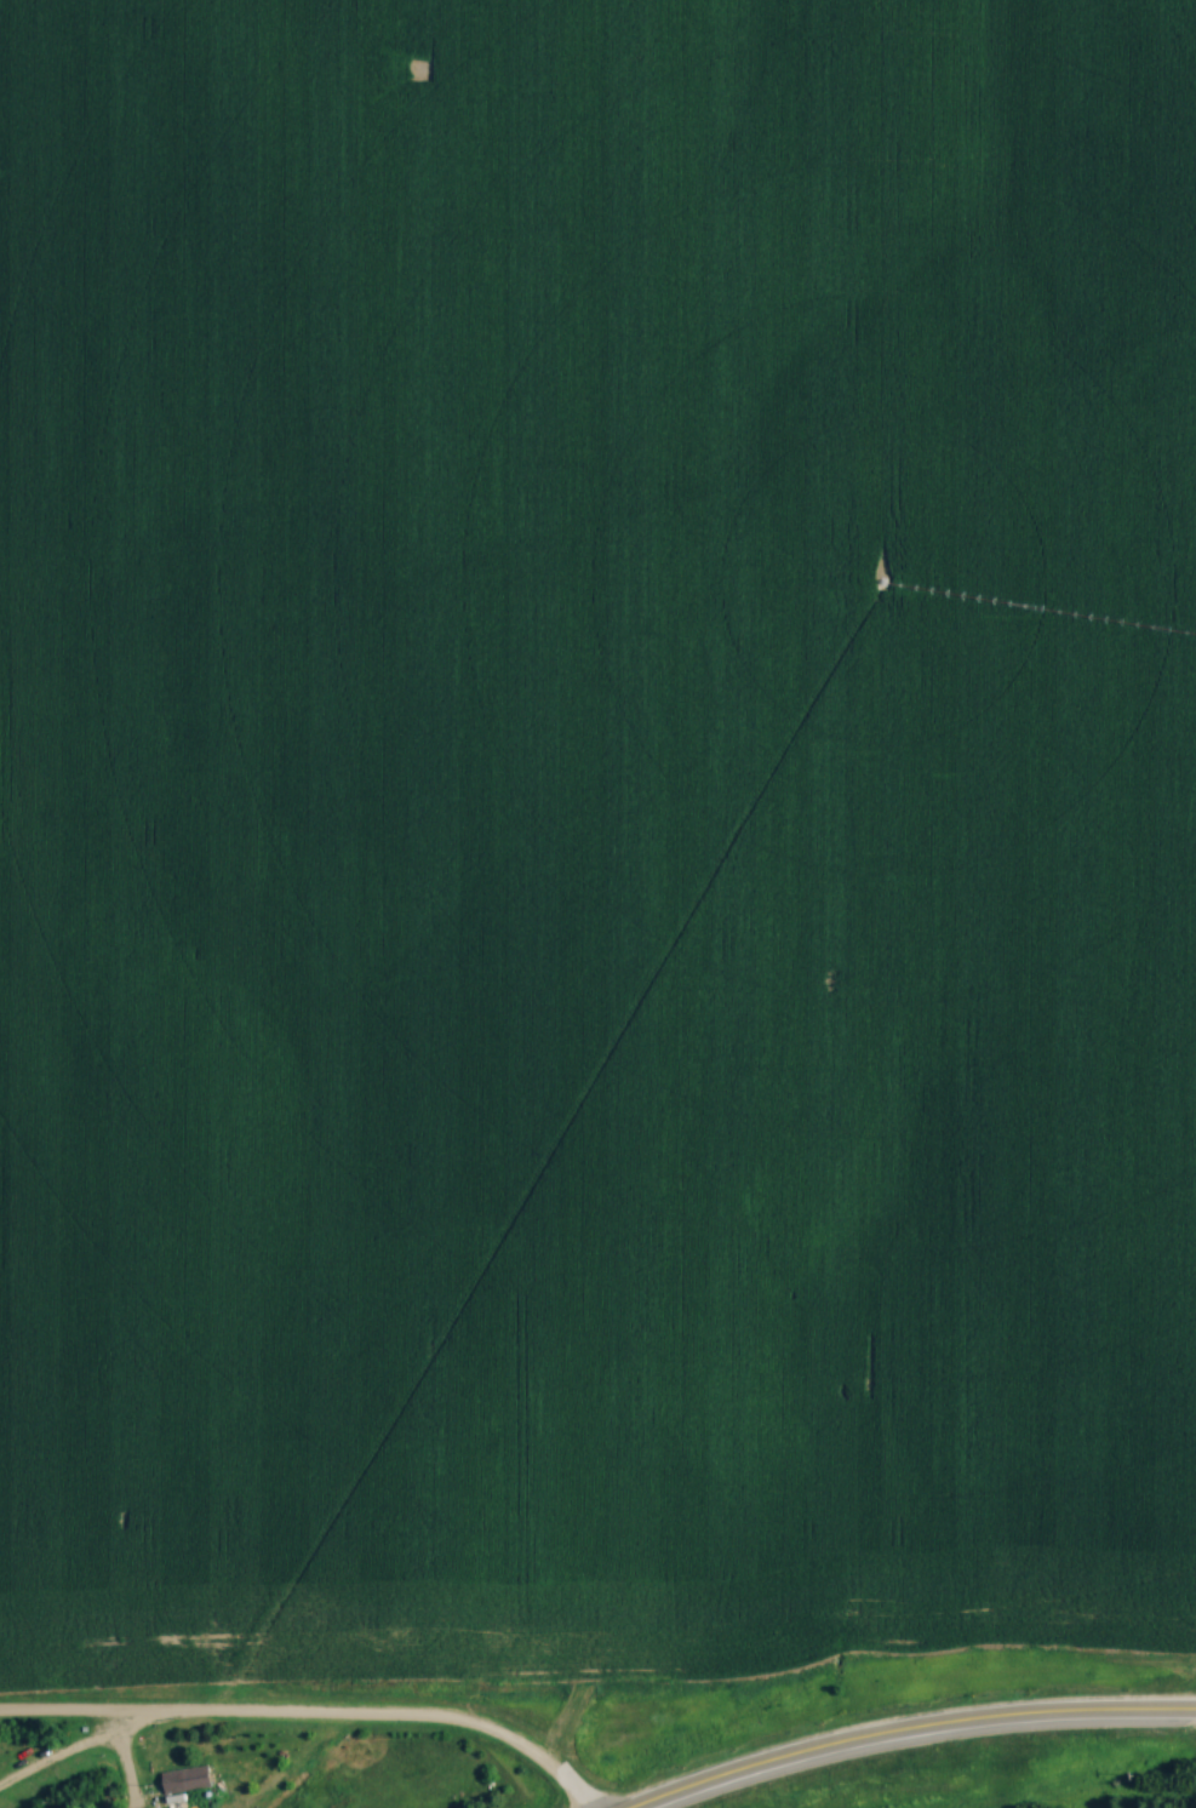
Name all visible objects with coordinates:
road: (293, 1722)
road: (911, 1732)
building: (185, 1779)

